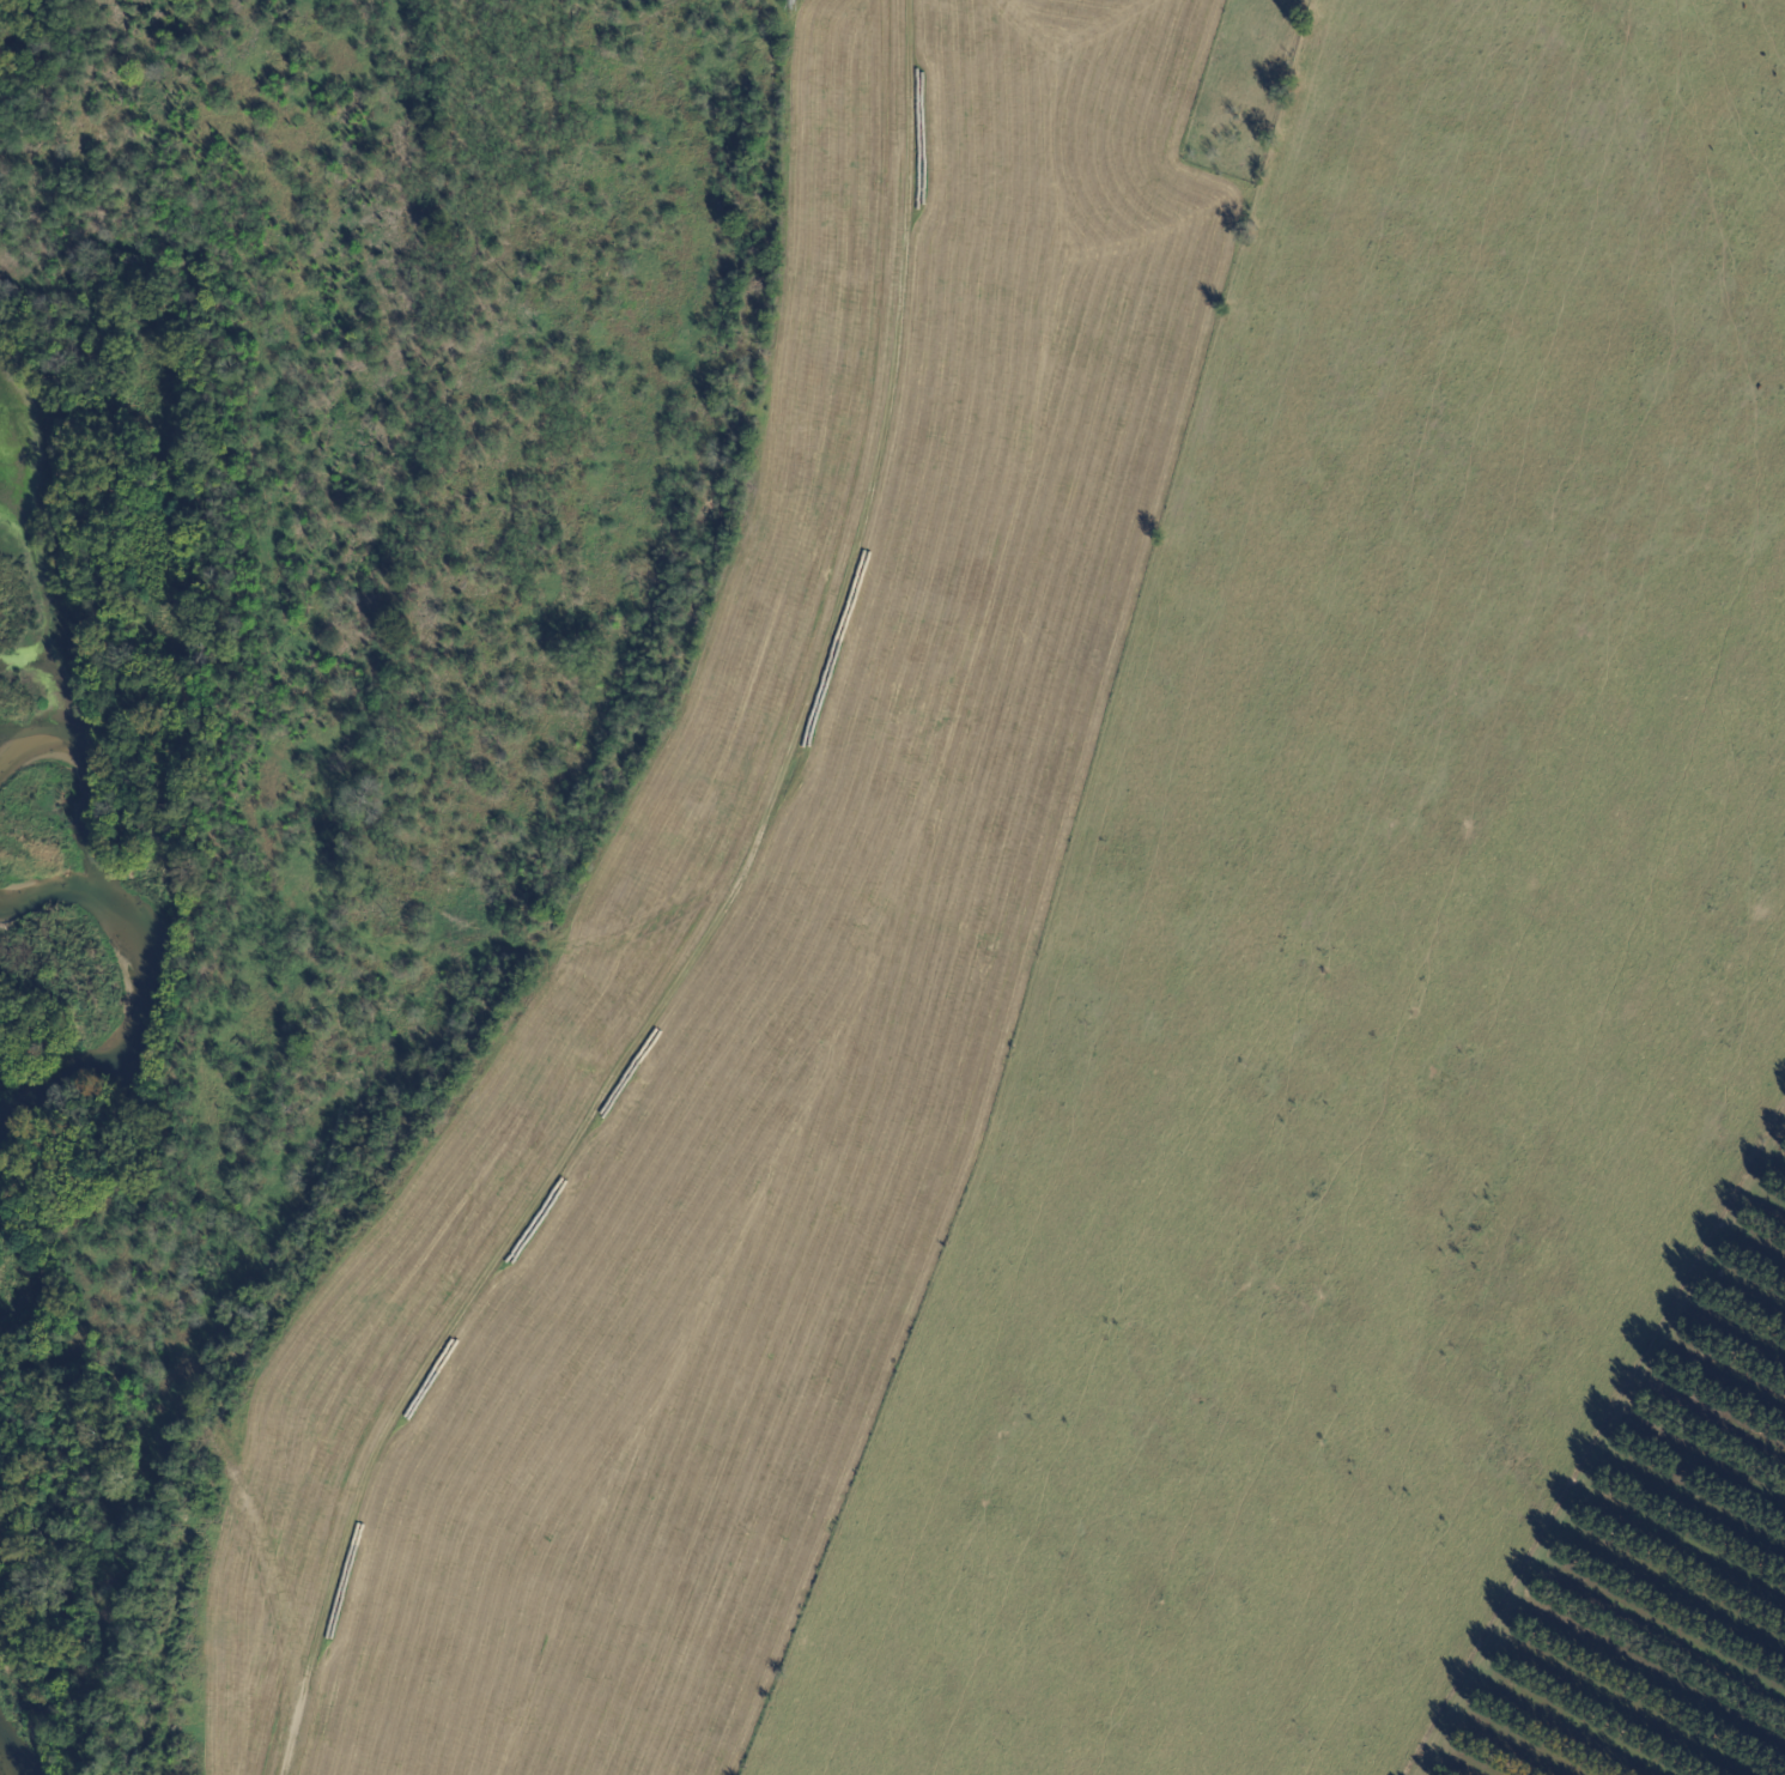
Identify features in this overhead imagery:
building: (1258, 35)
road: (714, 927)
crop: (1366, 937)
river: (6, 1765)

